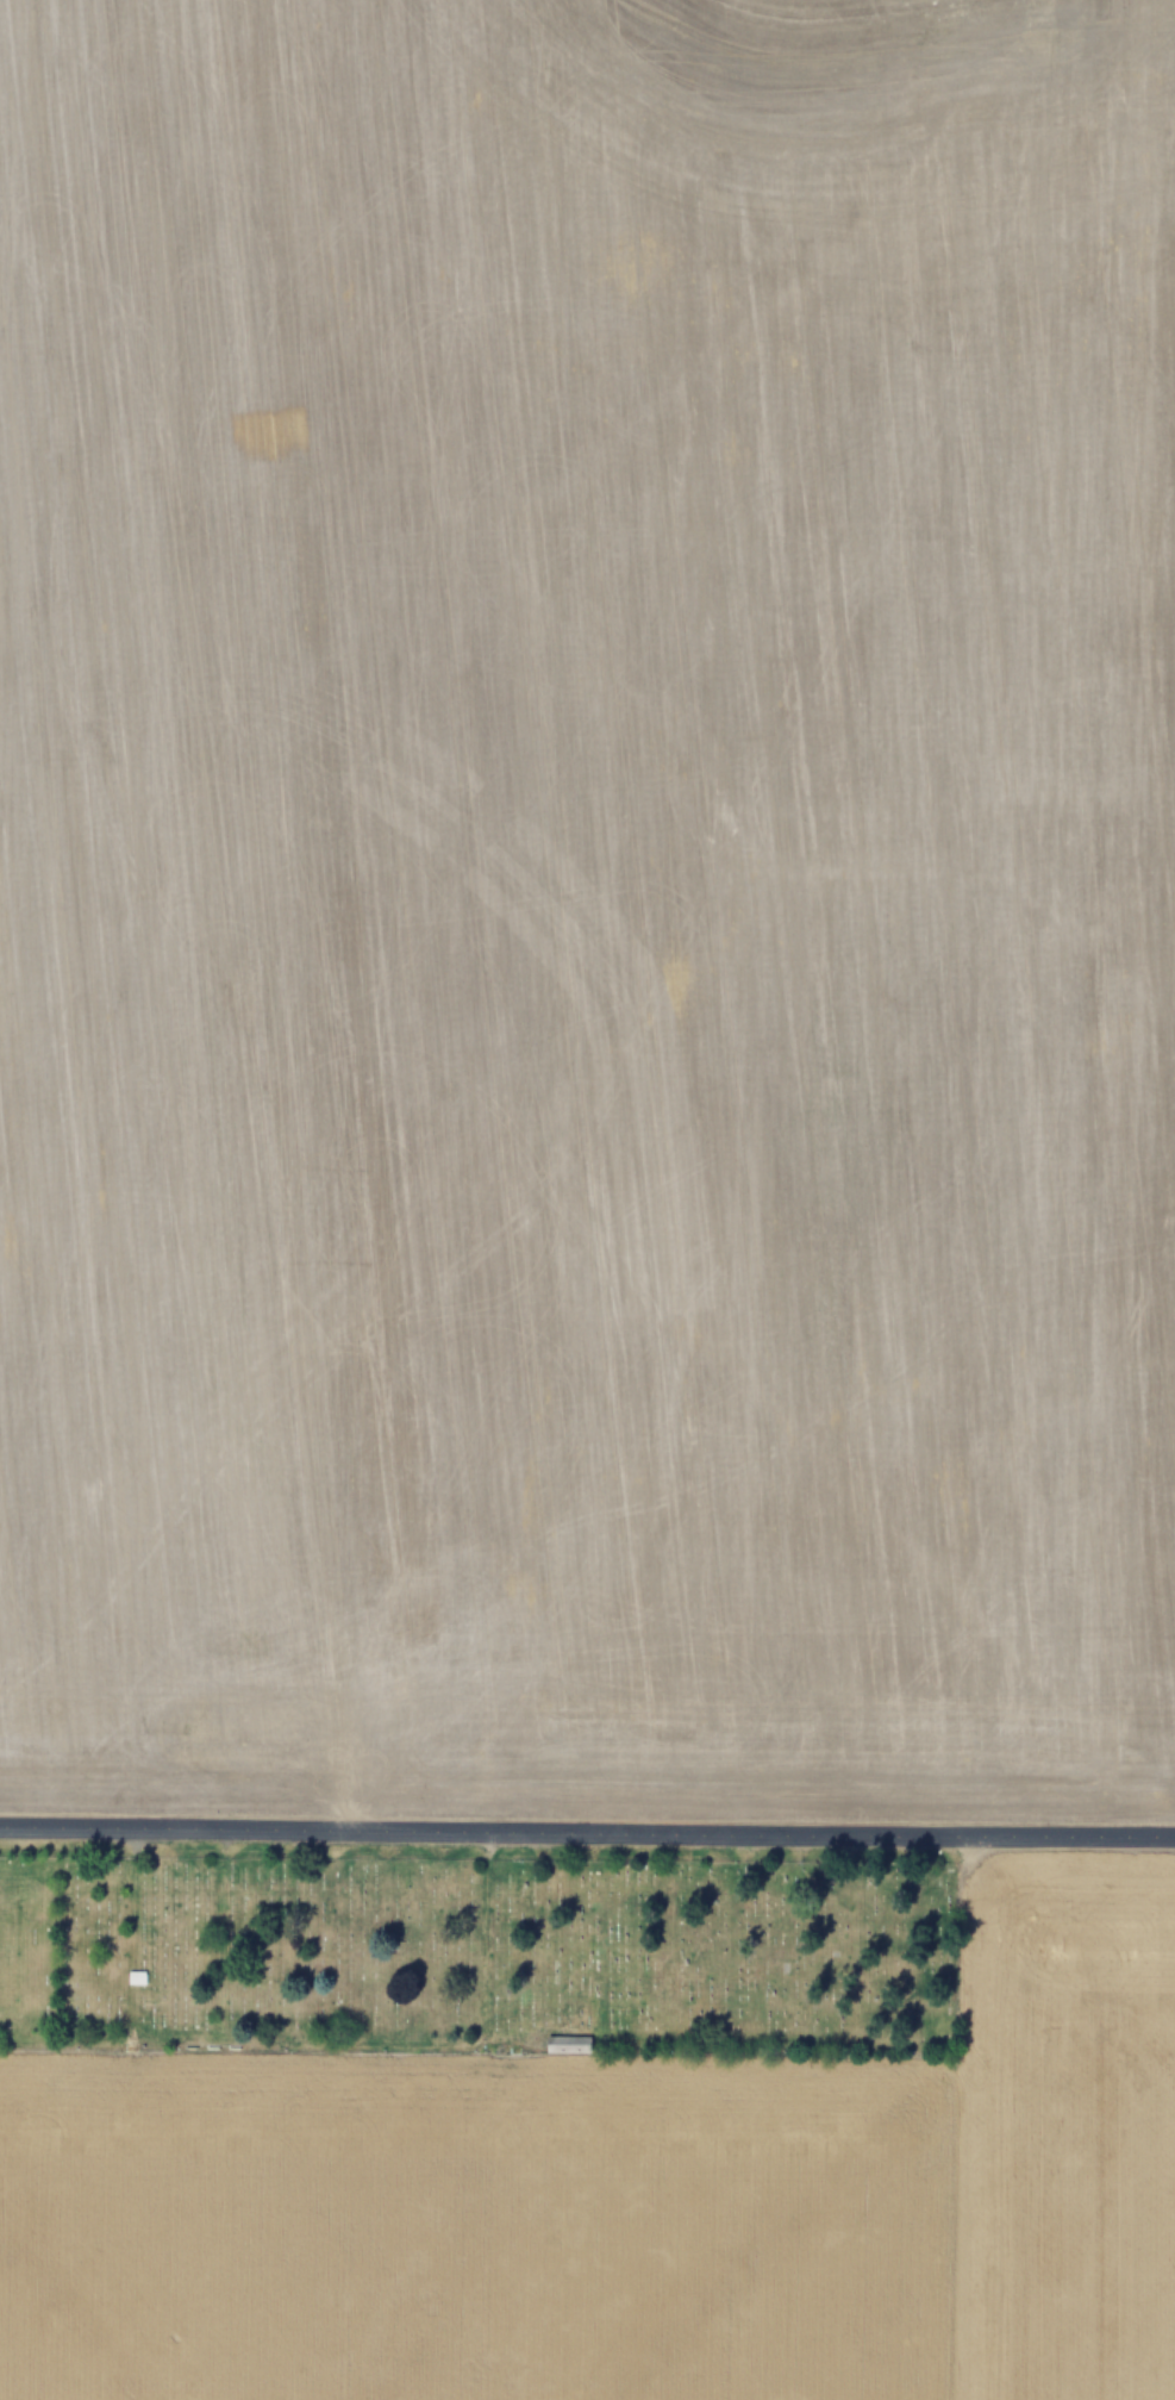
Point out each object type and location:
road: (587, 1831)

